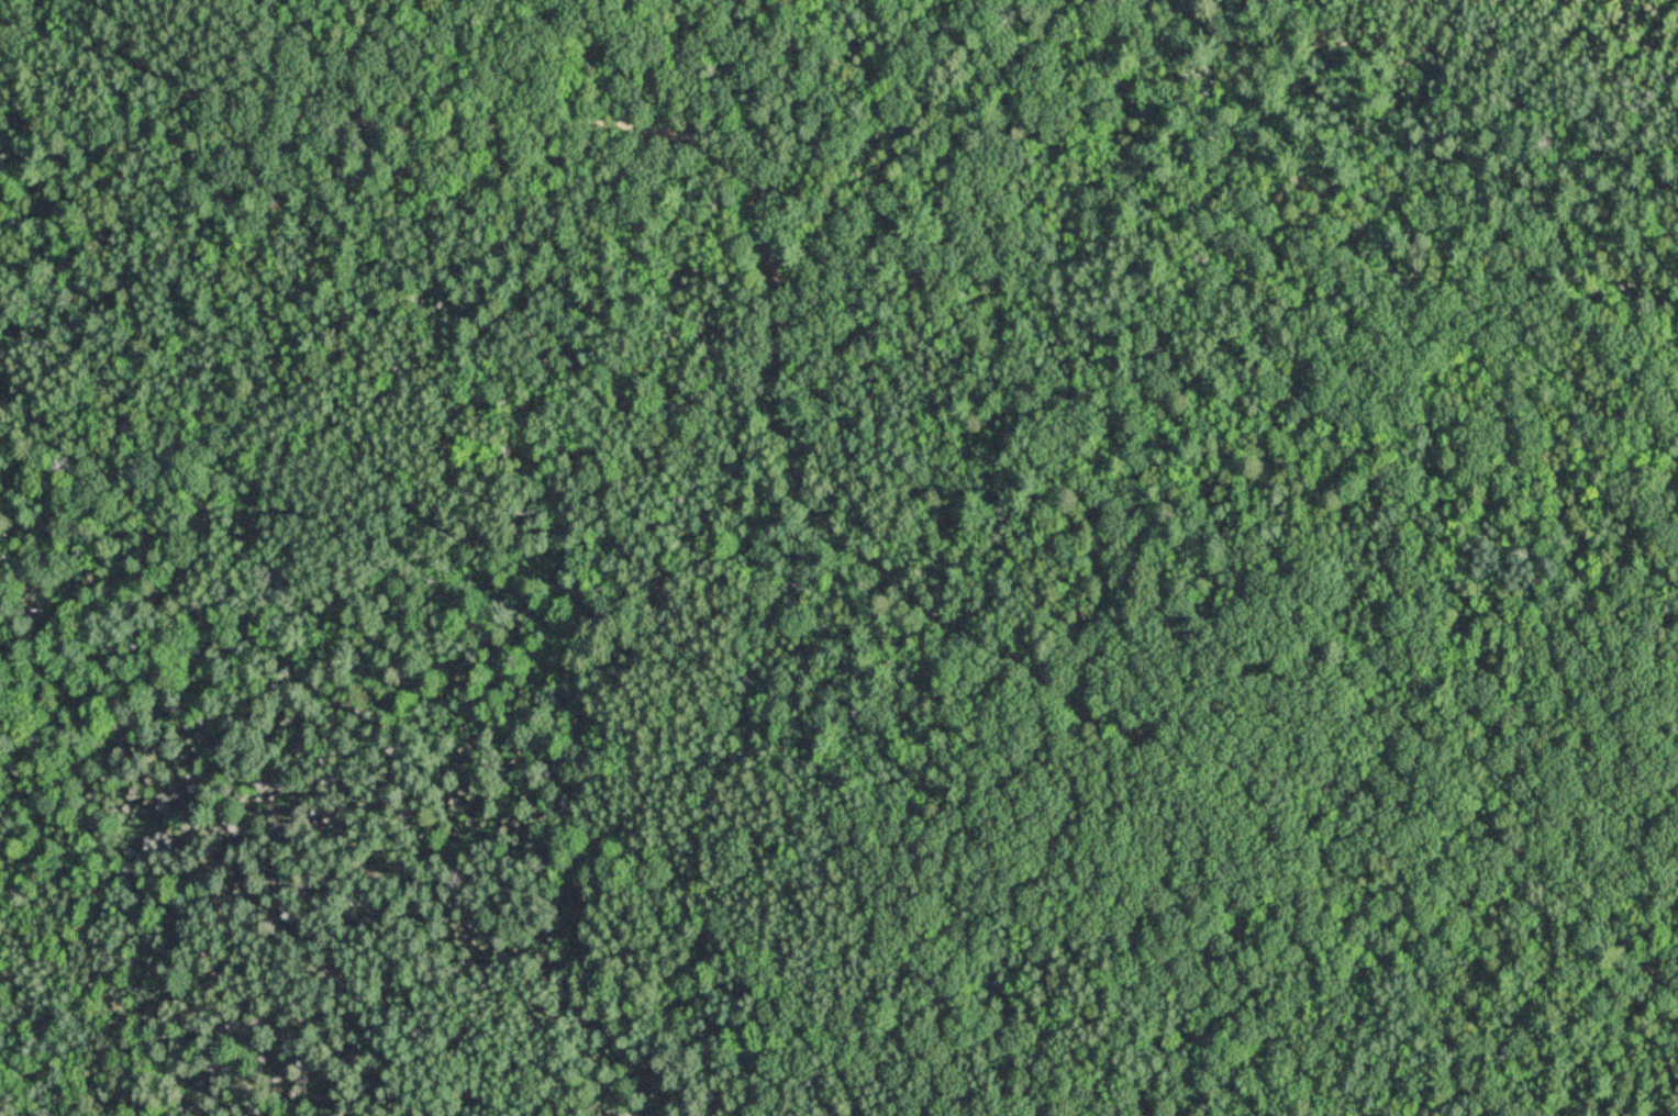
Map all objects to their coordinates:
road: (1411, 143)
road: (780, 462)
park: (838, 558)

